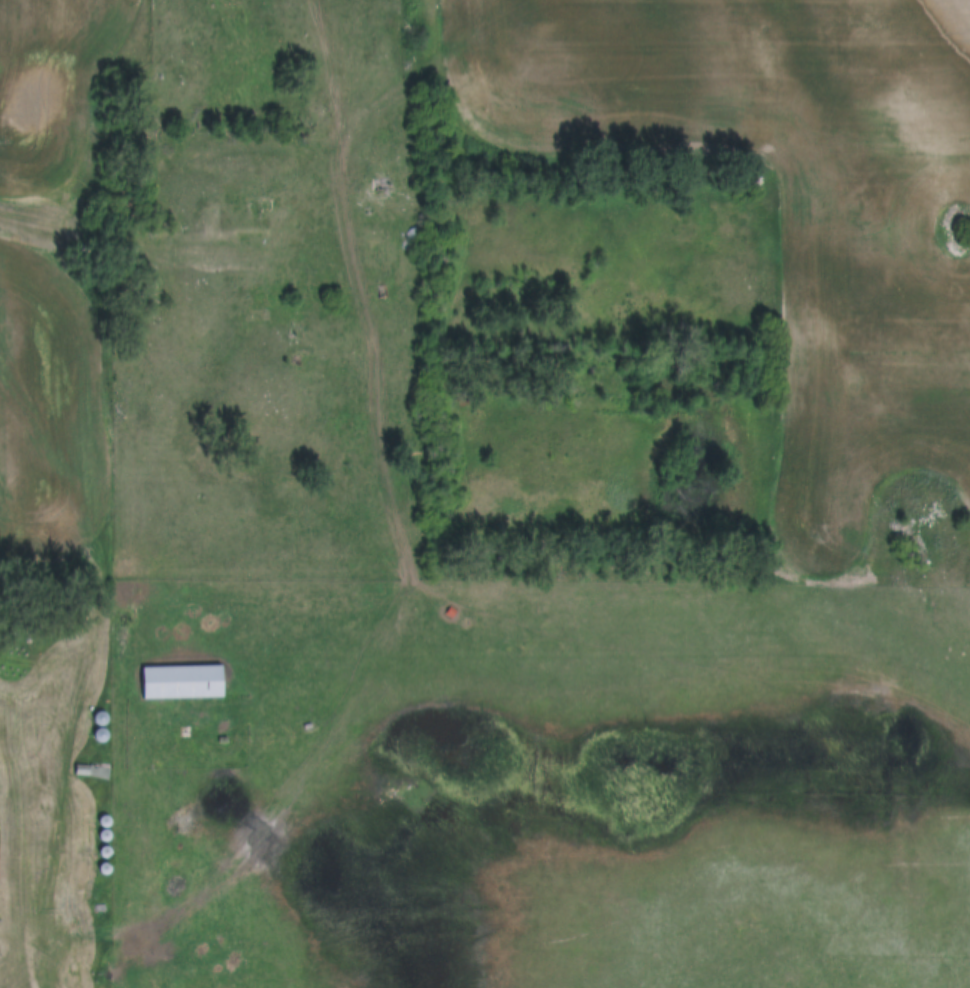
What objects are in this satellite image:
building: (178, 684)
building: (85, 771)
building: (0, 859)
road: (27, 935)

